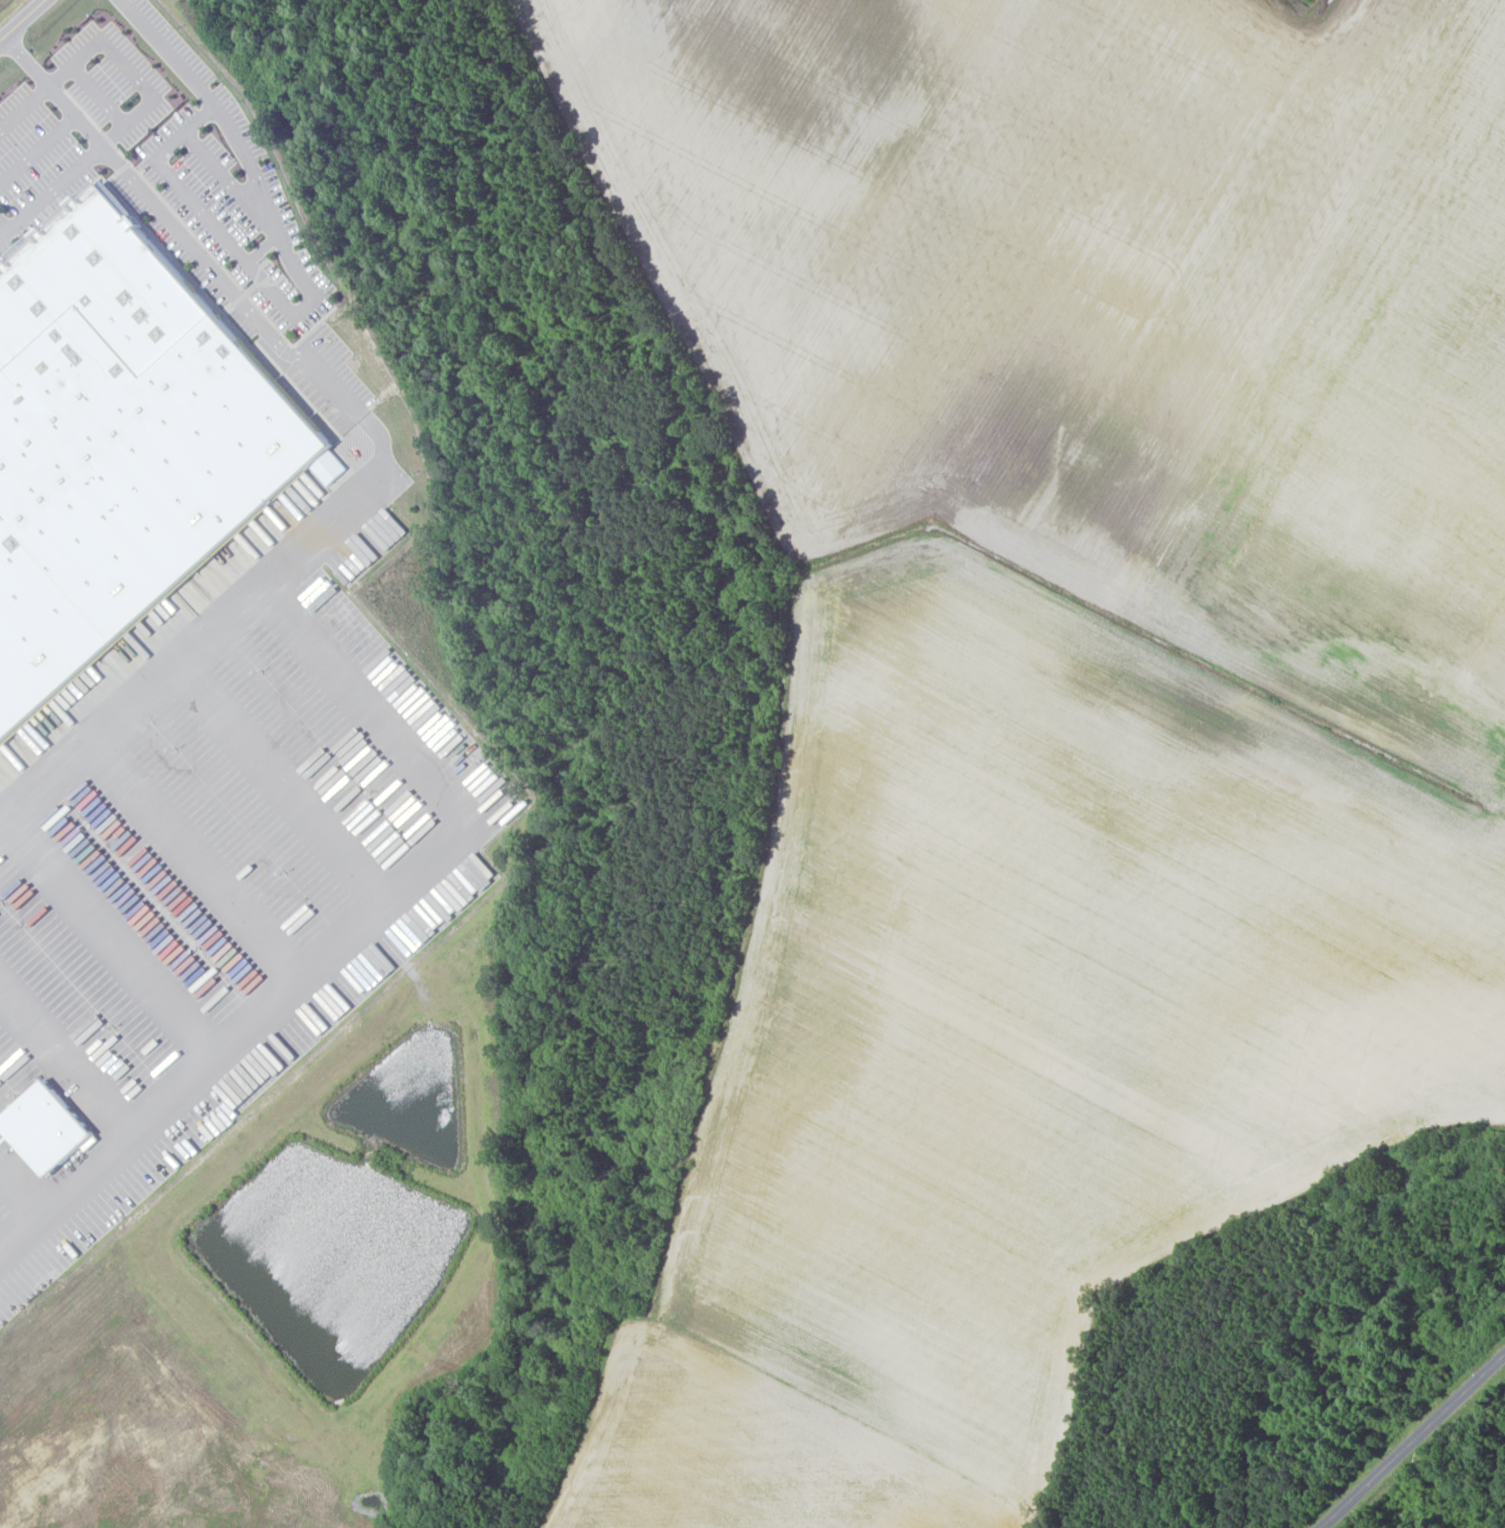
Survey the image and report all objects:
road: (22, 19)
road: (166, 52)
road: (127, 69)
road: (99, 94)
road: (24, 107)
road: (98, 143)
road: (37, 149)
road: (223, 175)
road: (3, 228)
road: (262, 247)
road: (279, 298)
building: (121, 446)
road: (351, 495)
road: (280, 776)
road: (193, 856)
road: (350, 929)
road: (113, 931)
road: (68, 1058)
building: (43, 1128)
road: (23, 1188)
road: (1416, 1444)
road: (394, 1463)

